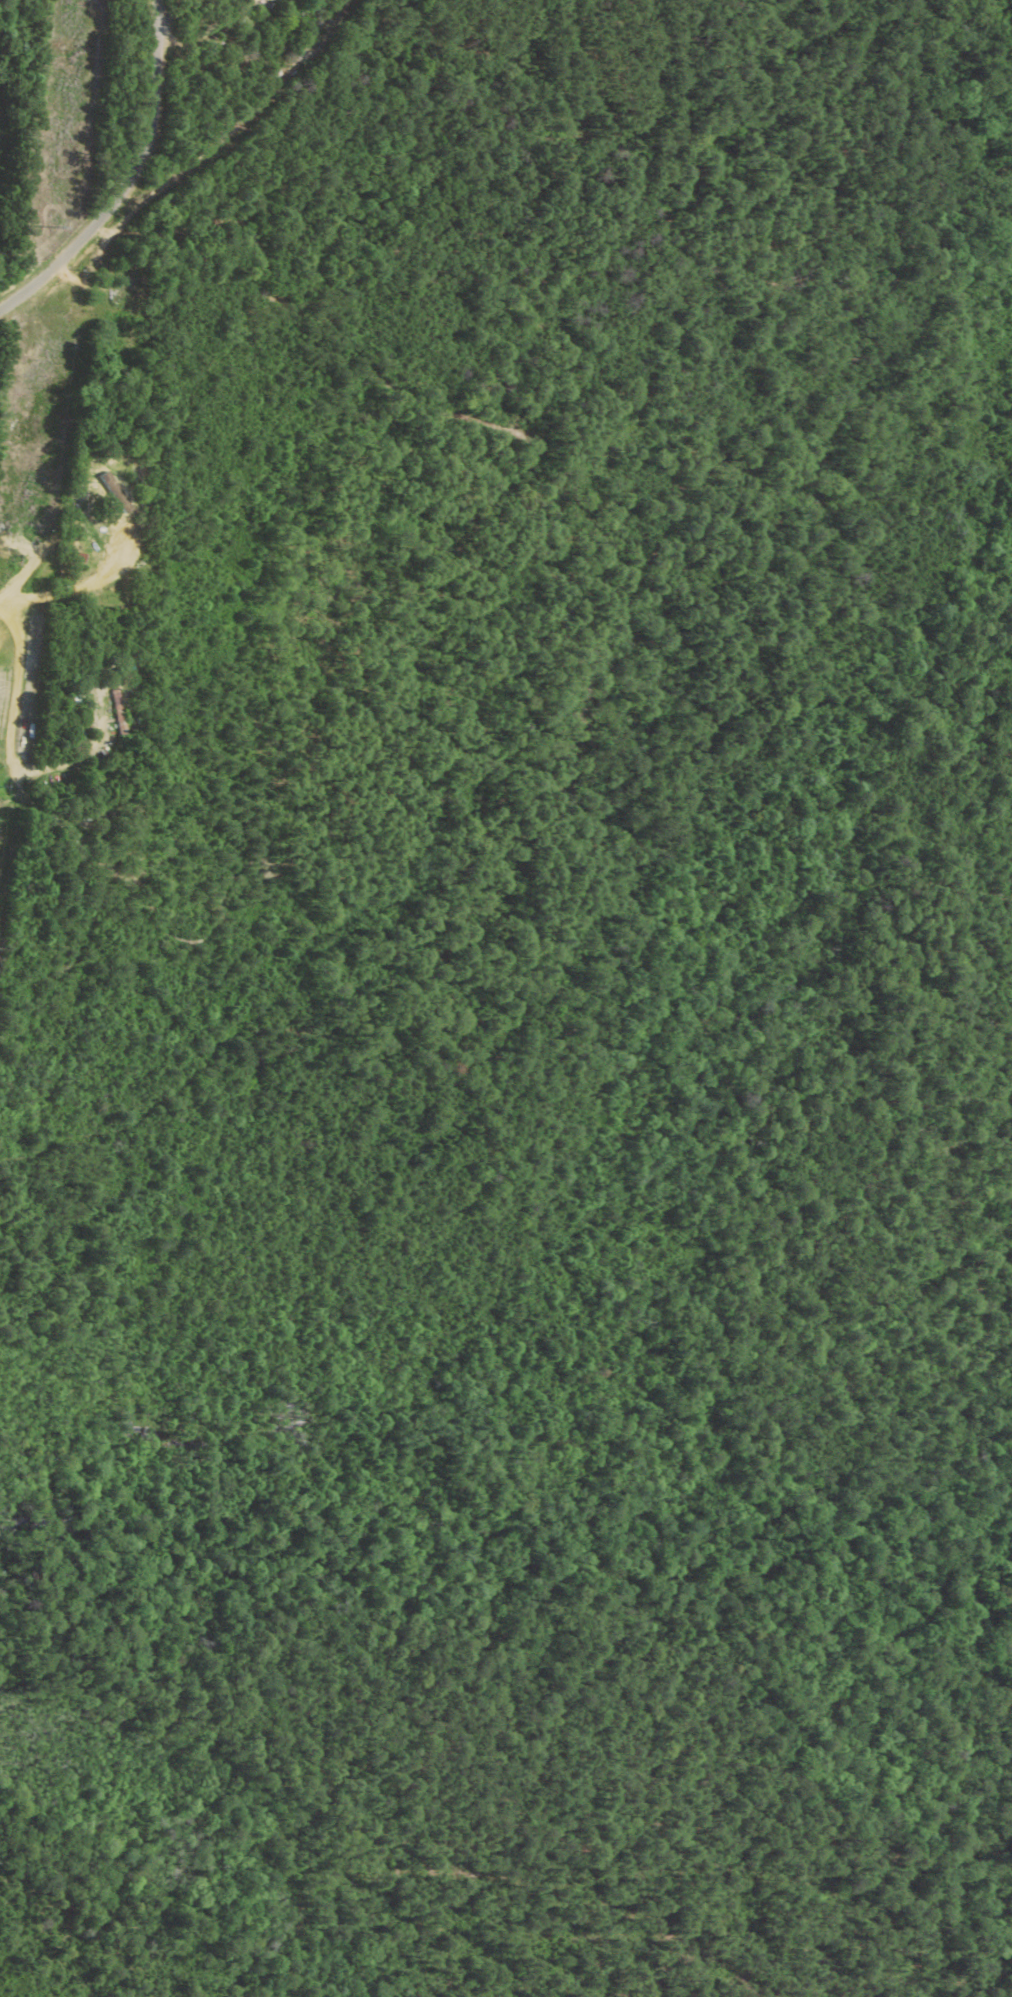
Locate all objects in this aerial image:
road: (130, 177)
road: (36, 590)
road: (8, 684)
building: (118, 711)
road: (60, 759)

